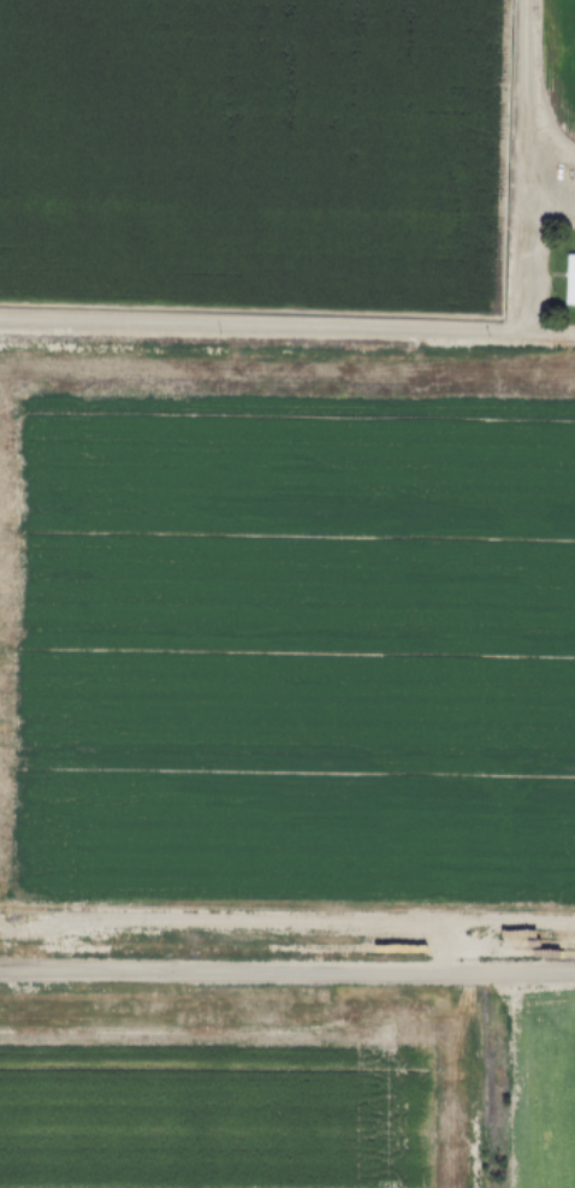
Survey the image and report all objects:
road: (520, 165)
road: (547, 205)
building: (569, 279)
road: (287, 324)
road: (287, 973)

